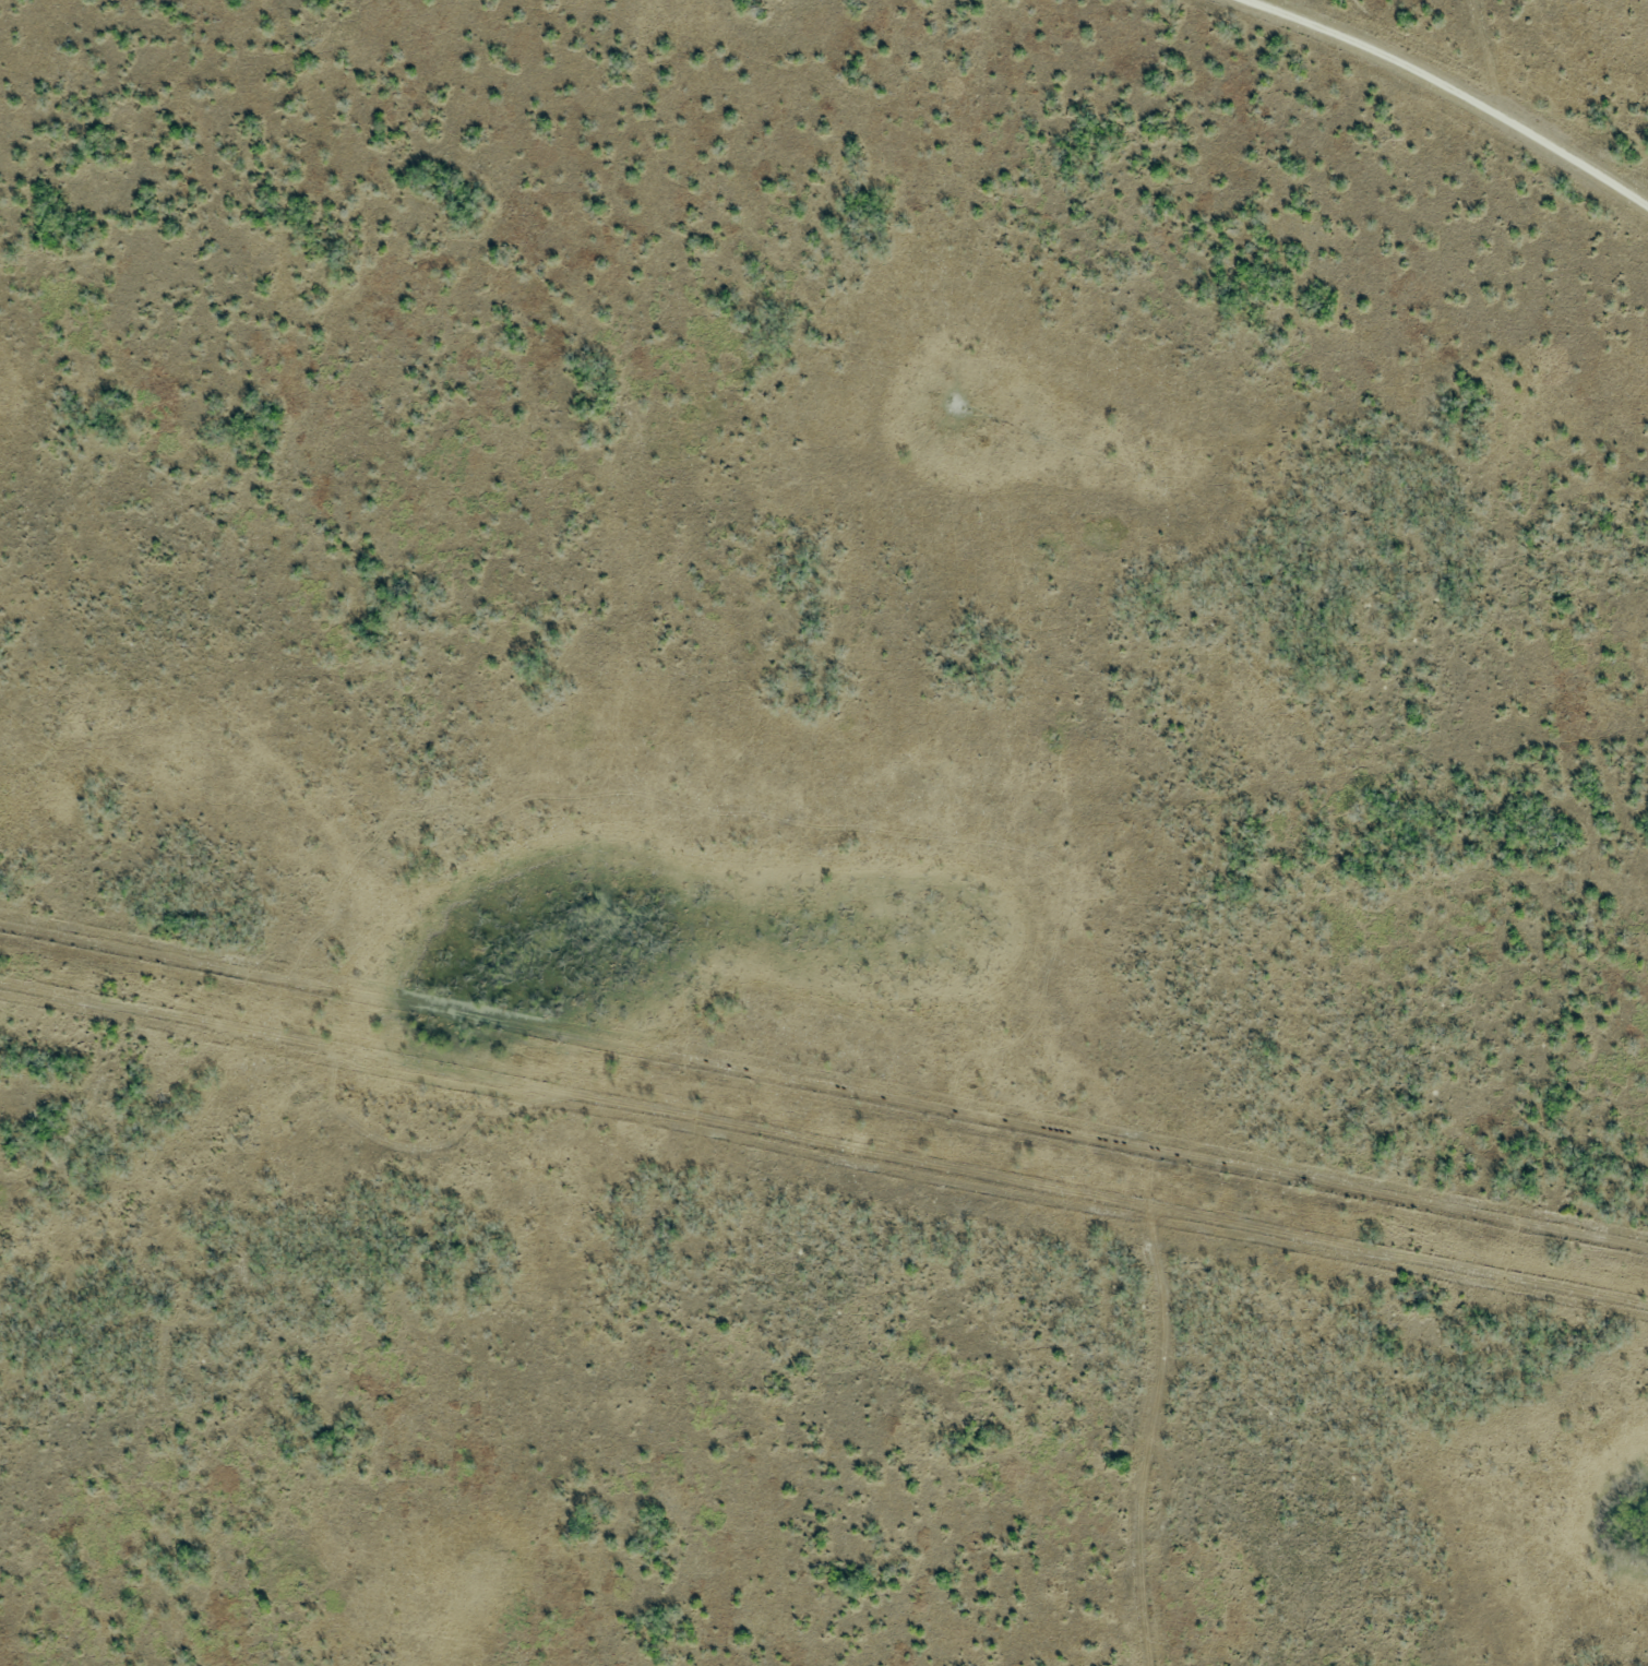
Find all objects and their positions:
road: (1458, 79)

